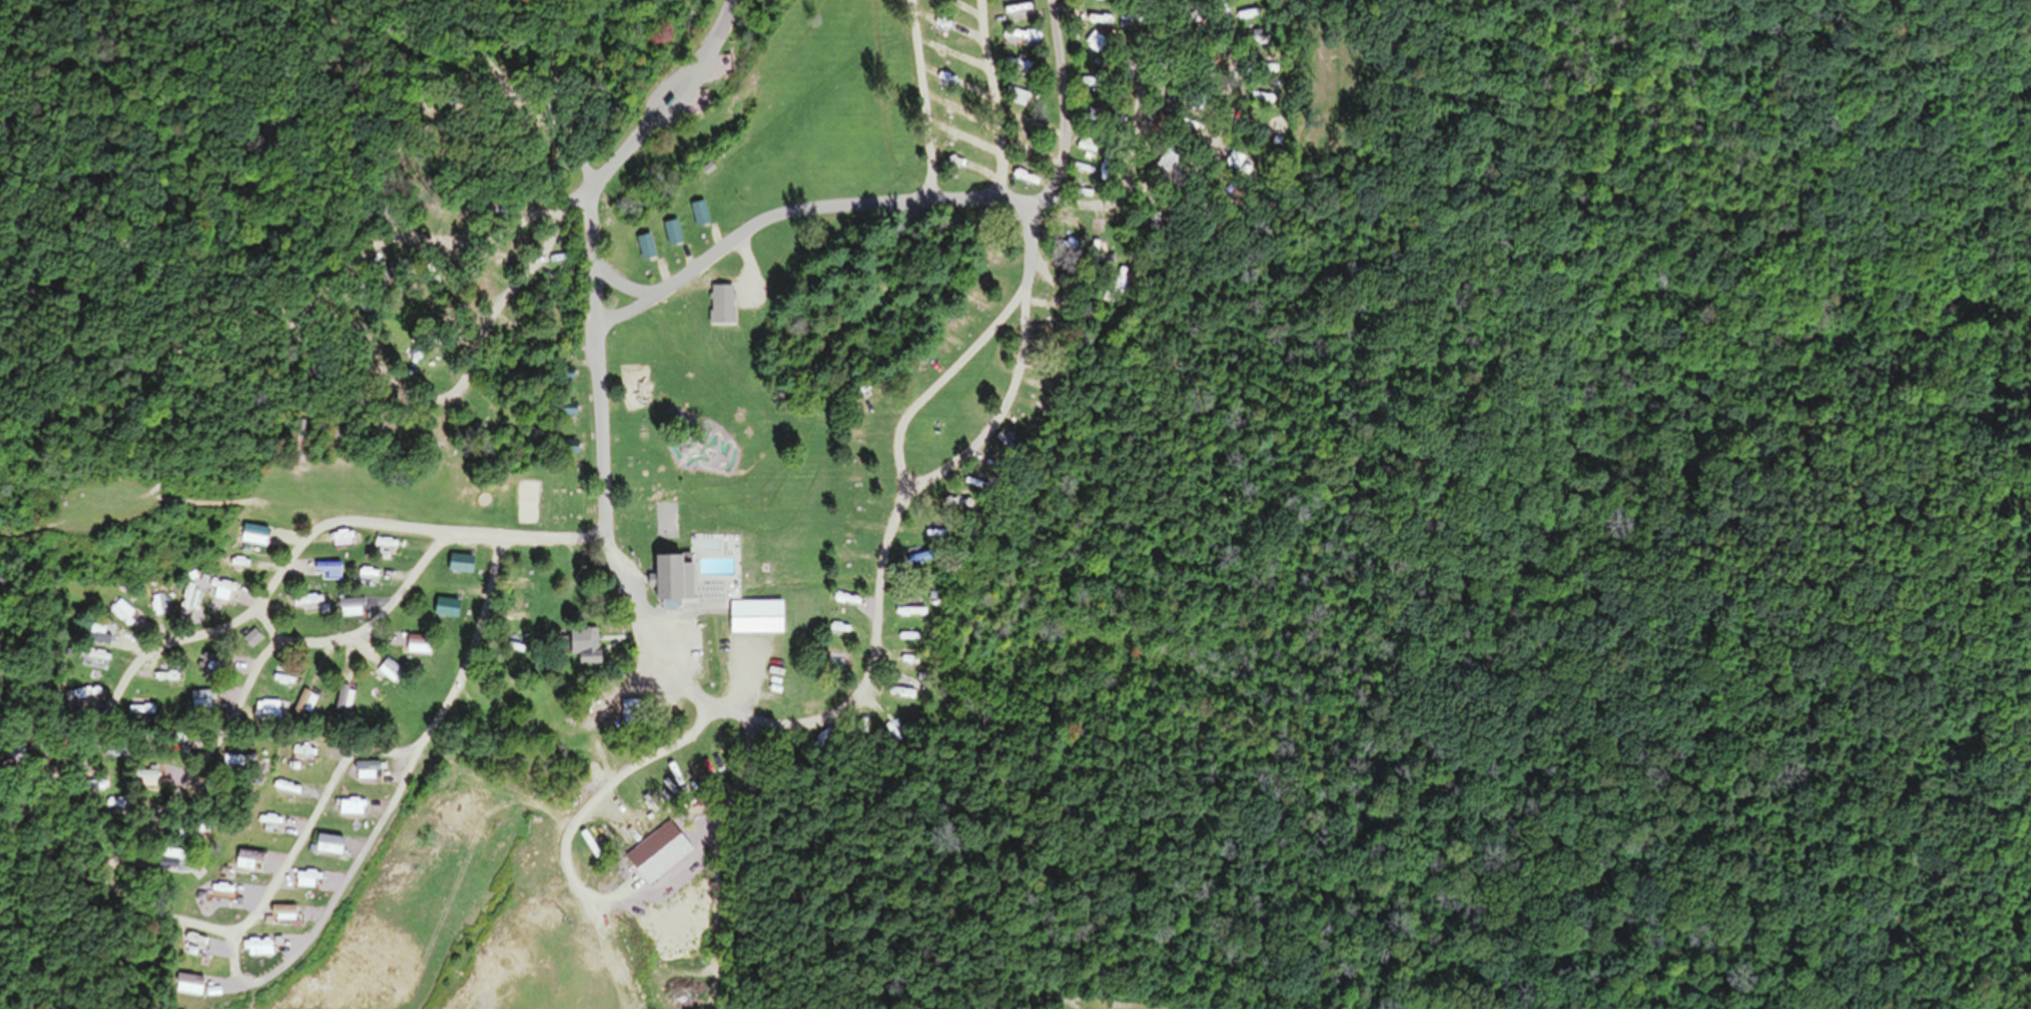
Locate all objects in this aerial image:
building: (937, 1)
building: (1106, 20)
building: (1026, 39)
building: (1085, 80)
road: (990, 99)
road: (921, 100)
building: (1160, 106)
road: (629, 148)
building: (1085, 148)
building: (1166, 163)
road: (1072, 206)
road: (802, 211)
building: (699, 217)
building: (671, 236)
building: (644, 250)
building: (1092, 250)
building: (1010, 270)
building: (1123, 283)
road: (509, 286)
building: (720, 309)
road: (949, 374)
building: (563, 378)
building: (564, 414)
building: (567, 451)
building: (953, 504)
building: (458, 566)
road: (416, 571)
building: (328, 573)
building: (676, 582)
building: (349, 610)
building: (123, 616)
building: (910, 616)
building: (755, 620)
building: (99, 637)
building: (251, 642)
building: (417, 647)
building: (583, 647)
building: (214, 662)
building: (389, 674)
building: (283, 682)
building: (341, 701)
building: (201, 702)
building: (304, 707)
road: (851, 707)
building: (270, 712)
building: (302, 755)
road: (64, 760)
building: (232, 765)
building: (365, 773)
building: (144, 780)
building: (91, 785)
road: (599, 788)
building: (350, 810)
road: (312, 811)
building: (189, 833)
building: (327, 847)
building: (158, 863)
building: (248, 863)
road: (354, 863)
building: (543, 874)
building: (304, 882)
building: (221, 895)
building: (282, 916)
building: (257, 951)
building: (188, 988)

